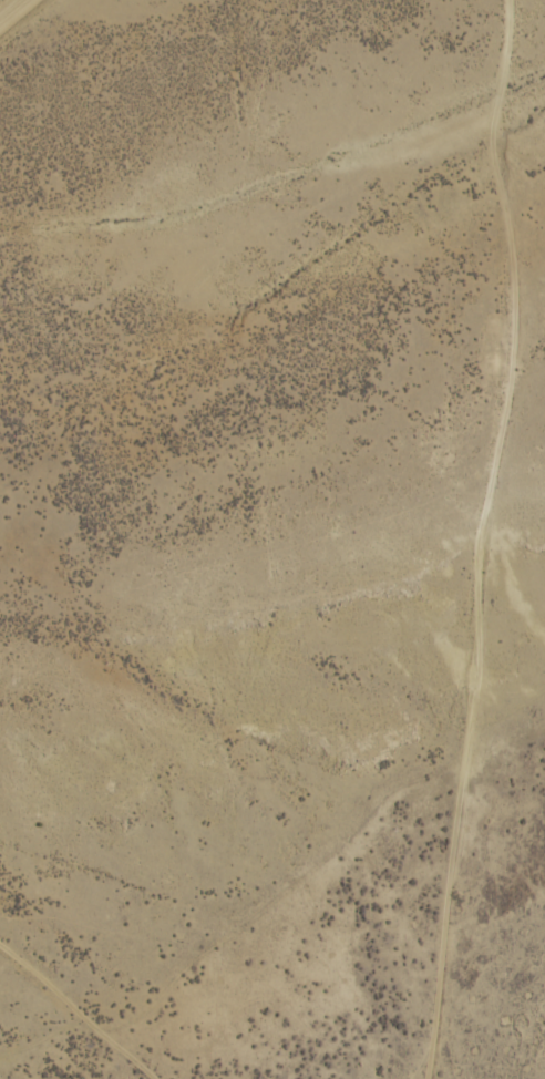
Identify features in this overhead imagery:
road: (11, 9)
road: (430, 616)

